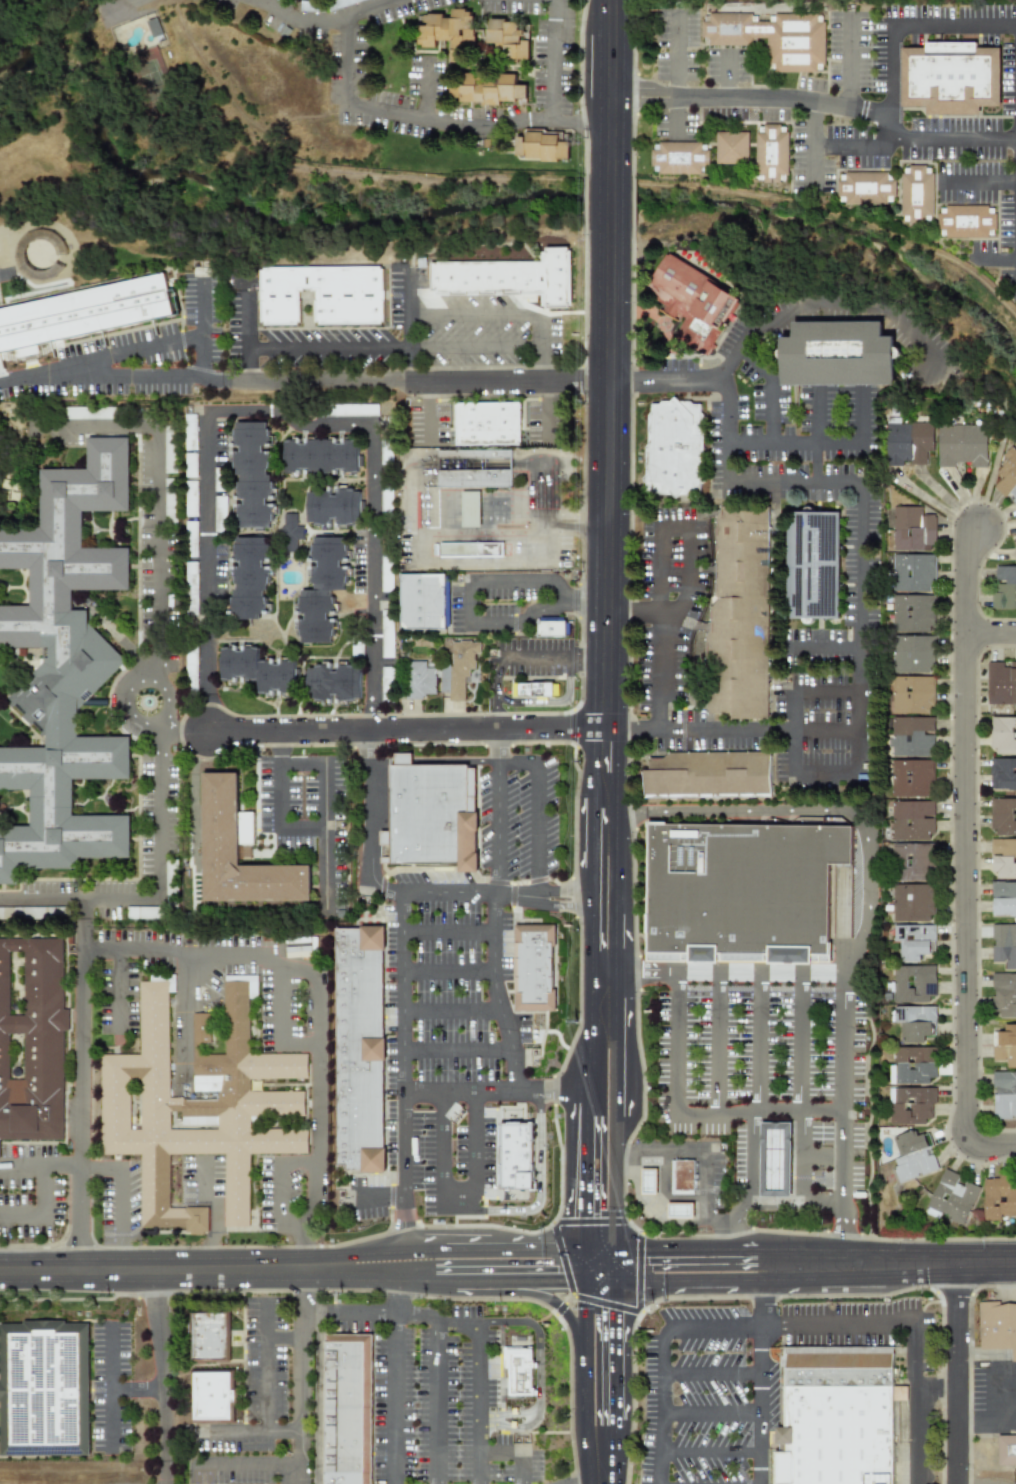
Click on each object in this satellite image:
road: (120, 4)
road: (370, 11)
road: (305, 15)
road: (953, 26)
building: (454, 35)
building: (777, 38)
building: (514, 40)
road: (677, 45)
road: (553, 53)
road: (848, 60)
road: (890, 60)
road: (345, 64)
road: (728, 66)
building: (955, 78)
road: (610, 86)
road: (645, 88)
road: (426, 89)
road: (678, 89)
building: (492, 90)
road: (729, 90)
road: (785, 100)
road: (644, 103)
road: (551, 113)
road: (815, 115)
road: (890, 119)
road: (436, 121)
road: (568, 121)
road: (953, 136)
road: (1007, 137)
road: (890, 140)
road: (856, 146)
building: (546, 147)
building: (733, 148)
road: (821, 148)
building: (771, 153)
road: (813, 154)
building: (680, 158)
road: (979, 184)
building: (866, 186)
building: (917, 193)
road: (609, 202)
building: (967, 221)
road: (986, 258)
road: (1006, 258)
building: (511, 278)
building: (324, 295)
road: (408, 301)
building: (691, 301)
road: (840, 309)
building: (85, 313)
road: (473, 314)
road: (244, 322)
road: (201, 328)
road: (326, 348)
road: (474, 348)
road: (541, 348)
road: (118, 353)
building: (837, 353)
road: (408, 357)
road: (248, 364)
road: (105, 378)
road: (223, 380)
road: (674, 381)
road: (423, 383)
road: (723, 384)
road: (771, 387)
road: (430, 393)
road: (546, 411)
road: (863, 417)
road: (289, 418)
road: (430, 421)
road: (92, 423)
building: (489, 424)
road: (817, 437)
road: (726, 439)
building: (908, 442)
road: (794, 443)
building: (961, 445)
building: (677, 450)
building: (324, 459)
building: (477, 471)
road: (207, 476)
building: (1007, 477)
building: (254, 478)
road: (794, 483)
road: (935, 505)
building: (469, 508)
building: (336, 510)
road: (580, 521)
road: (673, 526)
building: (912, 529)
road: (483, 532)
building: (292, 535)
road: (158, 550)
building: (474, 552)
building: (1014, 552)
road: (450, 560)
building: (814, 565)
building: (912, 573)
road: (373, 577)
road: (207, 578)
road: (509, 580)
building: (254, 582)
road: (860, 587)
building: (1004, 588)
road: (557, 589)
building: (324, 594)
road: (586, 599)
road: (681, 601)
road: (469, 602)
building: (426, 605)
road: (537, 609)
building: (912, 613)
road: (661, 618)
building: (742, 619)
road: (490, 622)
building: (551, 628)
road: (607, 629)
road: (991, 634)
road: (824, 647)
building: (911, 654)
road: (537, 656)
road: (587, 658)
building: (457, 669)
building: (65, 672)
road: (207, 675)
building: (260, 675)
building: (418, 679)
building: (1000, 683)
building: (339, 687)
road: (167, 688)
building: (531, 689)
road: (826, 690)
road: (495, 691)
building: (909, 694)
road: (551, 701)
road: (654, 720)
road: (182, 730)
road: (406, 731)
road: (630, 731)
road: (708, 731)
road: (779, 731)
road: (823, 731)
road: (854, 732)
road: (859, 733)
road: (796, 734)
building: (1003, 735)
building: (911, 736)
road: (434, 762)
road: (504, 762)
road: (287, 764)
building: (1002, 772)
road: (828, 777)
building: (712, 778)
building: (911, 778)
road: (159, 811)
road: (818, 811)
building: (429, 816)
building: (1002, 816)
road: (280, 819)
building: (911, 820)
building: (223, 822)
road: (500, 828)
road: (538, 834)
road: (326, 839)
building: (384, 847)
road: (966, 854)
building: (1003, 857)
building: (912, 861)
building: (744, 892)
road: (411, 893)
building: (1003, 898)
road: (79, 901)
building: (912, 903)
road: (84, 909)
road: (449, 932)
road: (84, 934)
building: (912, 941)
building: (1004, 944)
building: (533, 968)
road: (449, 972)
road: (719, 973)
building: (913, 983)
road: (121, 990)
road: (498, 994)
building: (1003, 994)
road: (453, 1011)
road: (318, 1013)
road: (184, 1020)
road: (280, 1022)
building: (914, 1023)
road: (801, 1042)
building: (31, 1043)
road: (678, 1043)
road: (720, 1043)
road: (761, 1043)
building: (1005, 1045)
building: (356, 1050)
road: (459, 1051)
road: (586, 1058)
building: (912, 1065)
road: (613, 1070)
road: (404, 1072)
parking lot: (768, 1076)
road: (845, 1086)
road: (495, 1092)
building: (1004, 1095)
building: (910, 1104)
road: (79, 1109)
building: (200, 1110)
road: (760, 1113)
road: (693, 1151)
building: (514, 1155)
road: (804, 1156)
building: (911, 1156)
road: (753, 1157)
road: (798, 1157)
building: (779, 1162)
gas station: (779, 1162)
road: (61, 1165)
road: (585, 1171)
road: (534, 1176)
building: (682, 1176)
road: (282, 1178)
building: (647, 1181)
road: (613, 1183)
building: (951, 1197)
building: (998, 1197)
road: (381, 1199)
road: (646, 1199)
road: (456, 1202)
road: (813, 1202)
road: (476, 1207)
building: (678, 1209)
road: (43, 1212)
road: (217, 1212)
traffic signals: (585, 1213)
road: (123, 1219)
road: (674, 1221)
road: (508, 1250)
road: (599, 1250)
traffic signals: (649, 1250)
road: (713, 1250)
road: (376, 1253)
road: (914, 1264)
traffic signals: (924, 1264)
road: (585, 1265)
road: (613, 1265)
road: (161, 1268)
road: (376, 1279)
road: (599, 1280)
road: (713, 1280)
road: (509, 1281)
traffic signals: (547, 1281)
road: (1014, 1284)
road: (520, 1292)
road: (396, 1314)
traffic signals: (613, 1315)
road: (710, 1327)
road: (873, 1327)
building: (998, 1328)
building: (209, 1336)
road: (286, 1339)
road: (613, 1352)
building: (836, 1368)
road: (303, 1369)
building: (519, 1372)
road: (713, 1374)
road: (954, 1374)
road: (165, 1375)
road: (541, 1376)
road: (584, 1376)
road: (396, 1381)
road: (764, 1381)
road: (112, 1388)
building: (44, 1390)
road: (138, 1391)
building: (899, 1393)
building: (212, 1396)
road: (319, 1399)
road: (267, 1401)
road: (482, 1403)
road: (439, 1404)
building: (346, 1410)
road: (662, 1412)
road: (713, 1414)
road: (1003, 1417)
road: (918, 1418)
road: (285, 1433)
building: (836, 1435)
road: (607, 1447)
road: (520, 1451)
road: (712, 1451)
building: (1008, 1453)
road: (250, 1466)
road: (601, 1476)
power substation: (1015, 1477)

